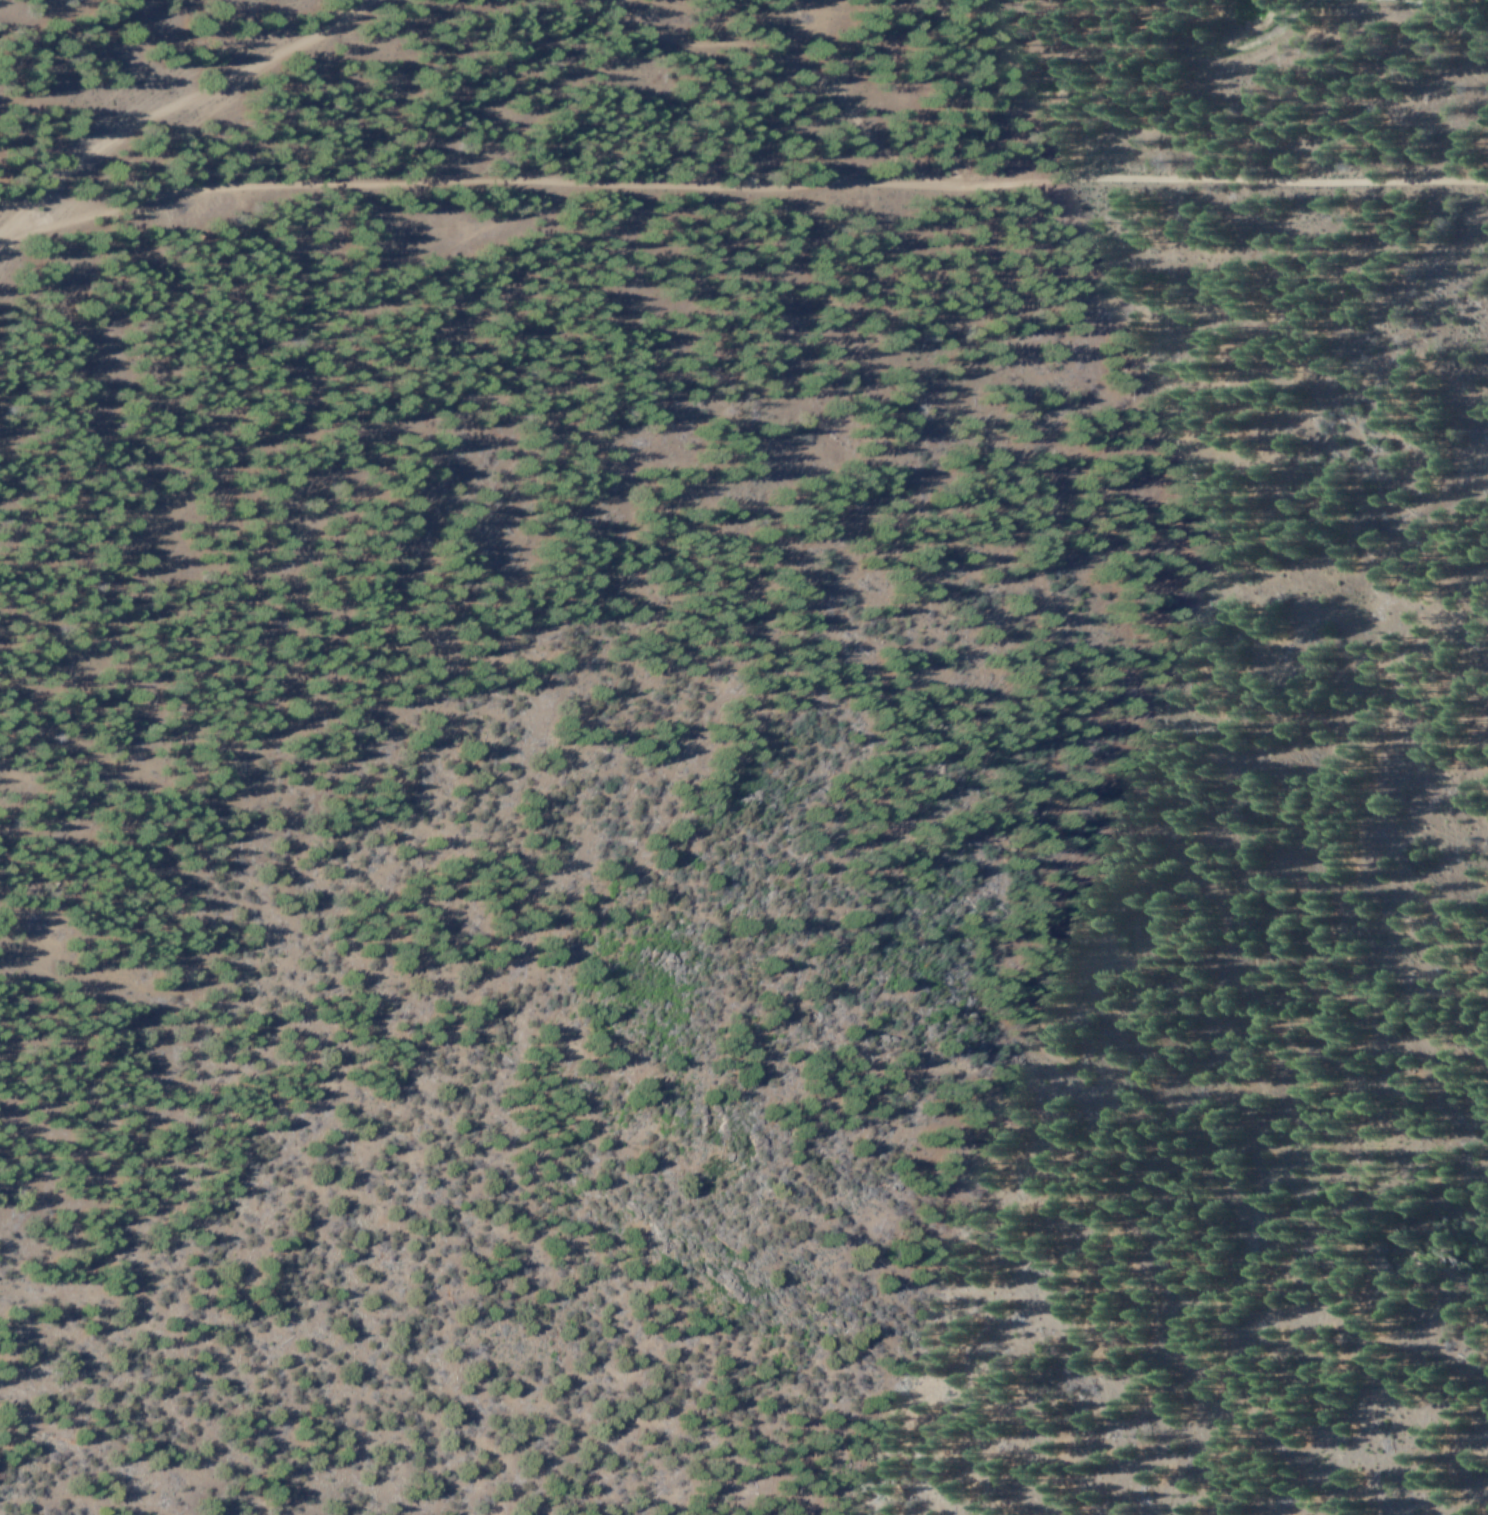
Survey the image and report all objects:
road: (171, 105)
road: (740, 185)

